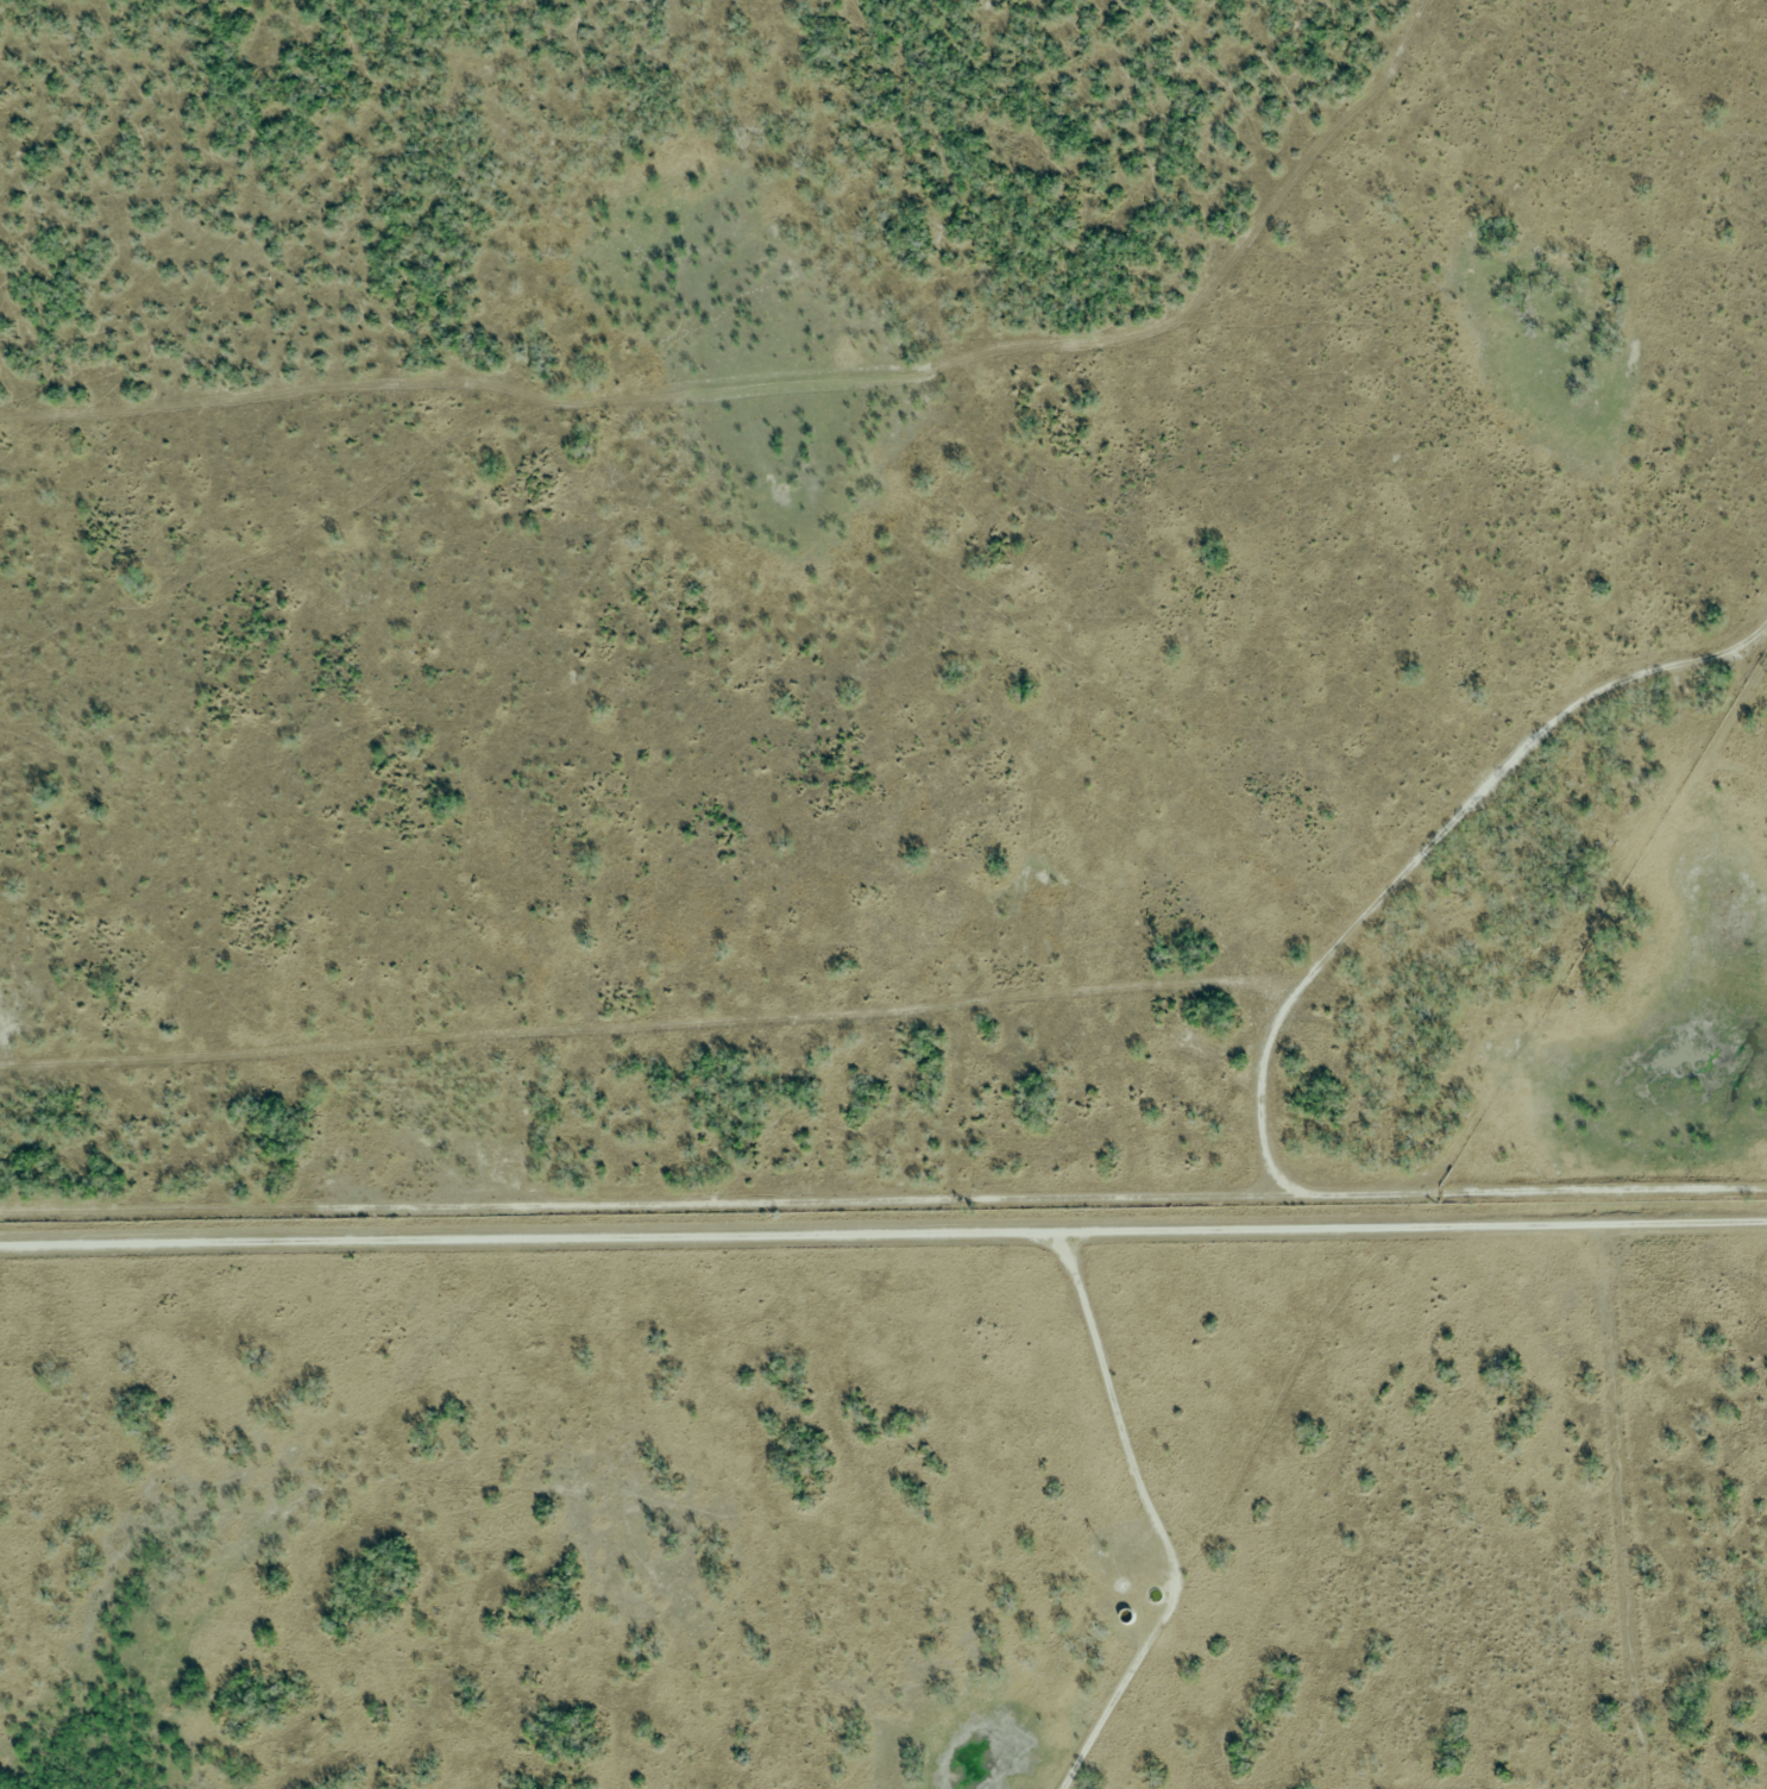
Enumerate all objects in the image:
road: (883, 1219)

